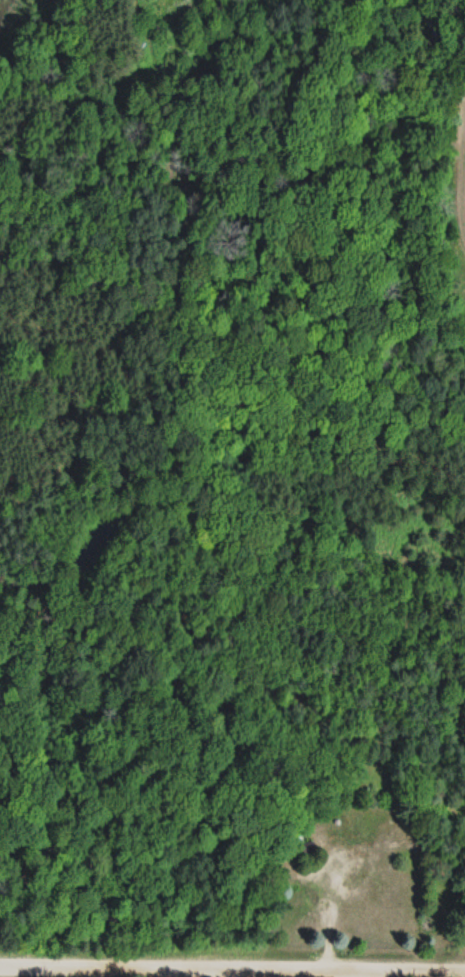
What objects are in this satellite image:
building: (304, 847)
road: (232, 968)

